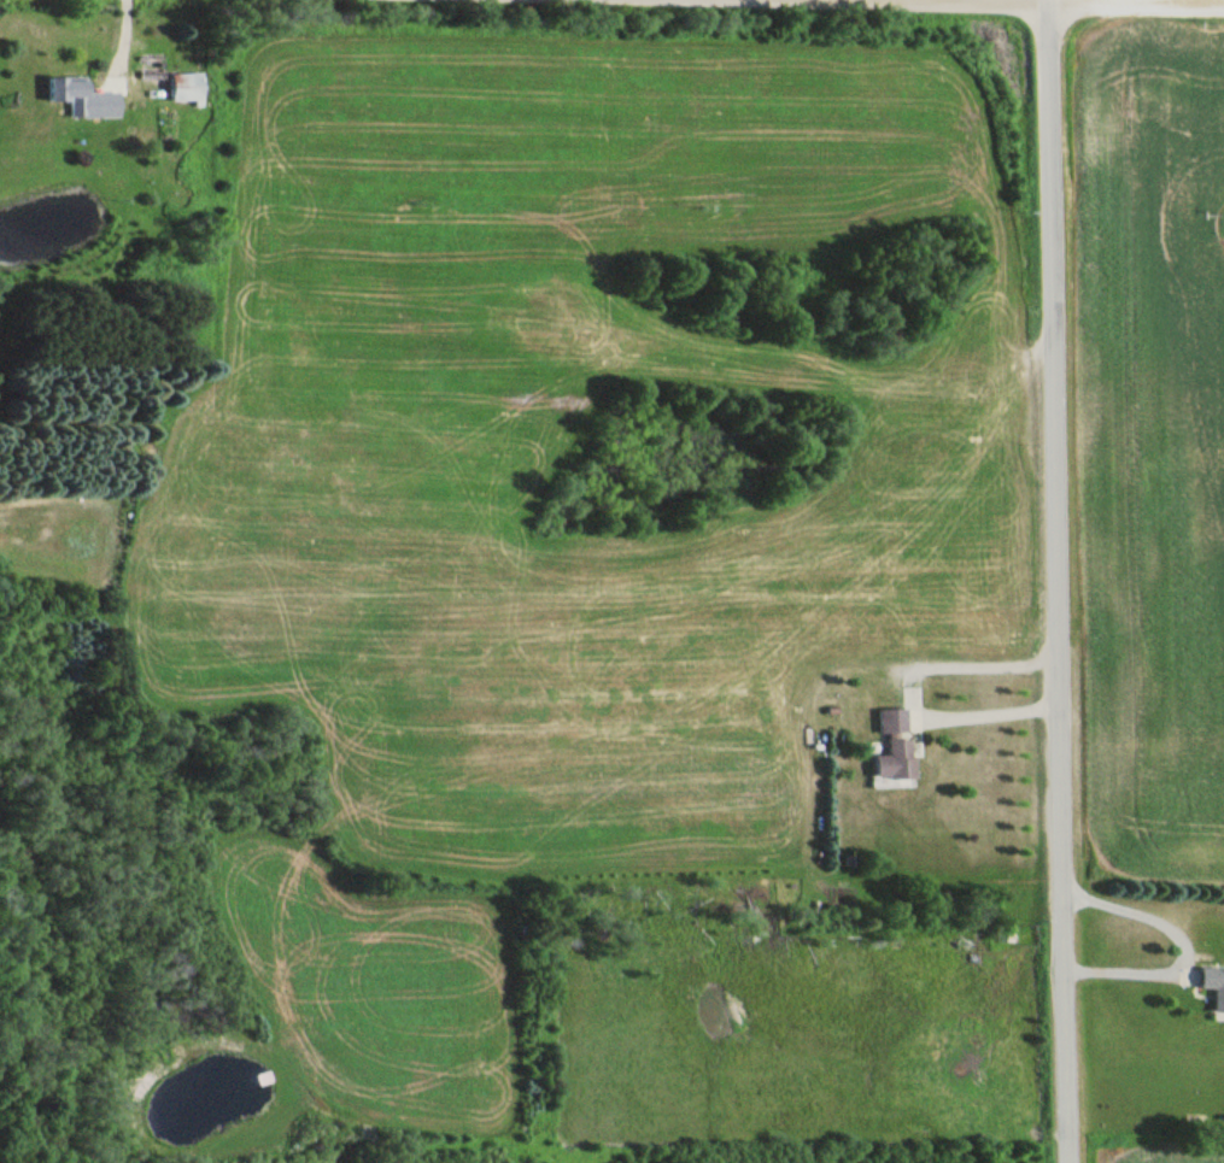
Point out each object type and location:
road: (1062, 4)
building: (189, 87)
building: (87, 98)
road: (1059, 581)
building: (897, 744)
building: (1214, 982)

